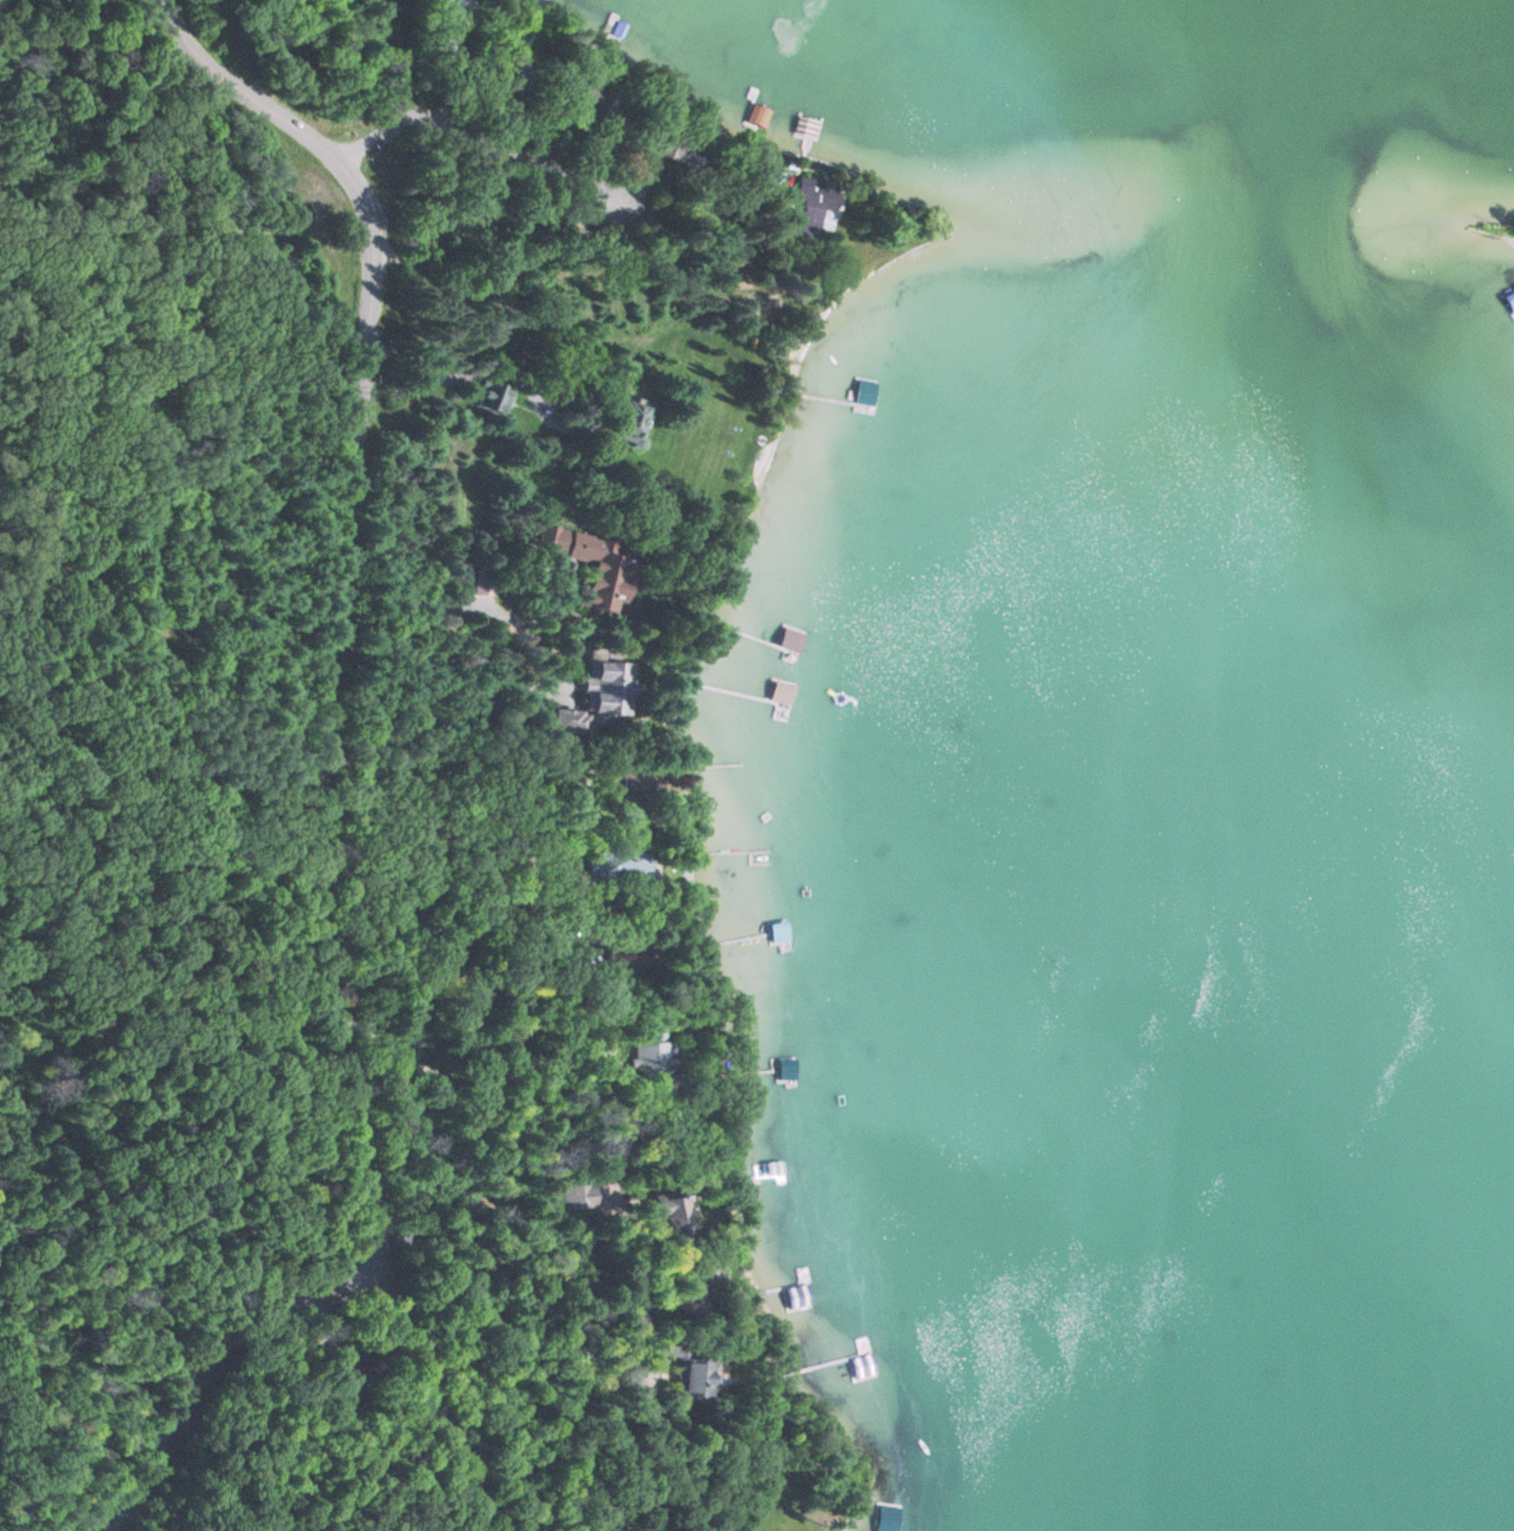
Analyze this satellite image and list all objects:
building: (611, 29)
road: (477, 143)
road: (146, 185)
building: (814, 207)
building: (498, 399)
building: (633, 416)
building: (603, 571)
building: (480, 582)
building: (599, 699)
road: (329, 734)
building: (618, 866)
building: (641, 1055)
building: (785, 1069)
building: (578, 1196)
building: (676, 1214)
building: (801, 1278)
road: (211, 1365)
building: (698, 1380)
building: (872, 1395)
road: (156, 1513)

